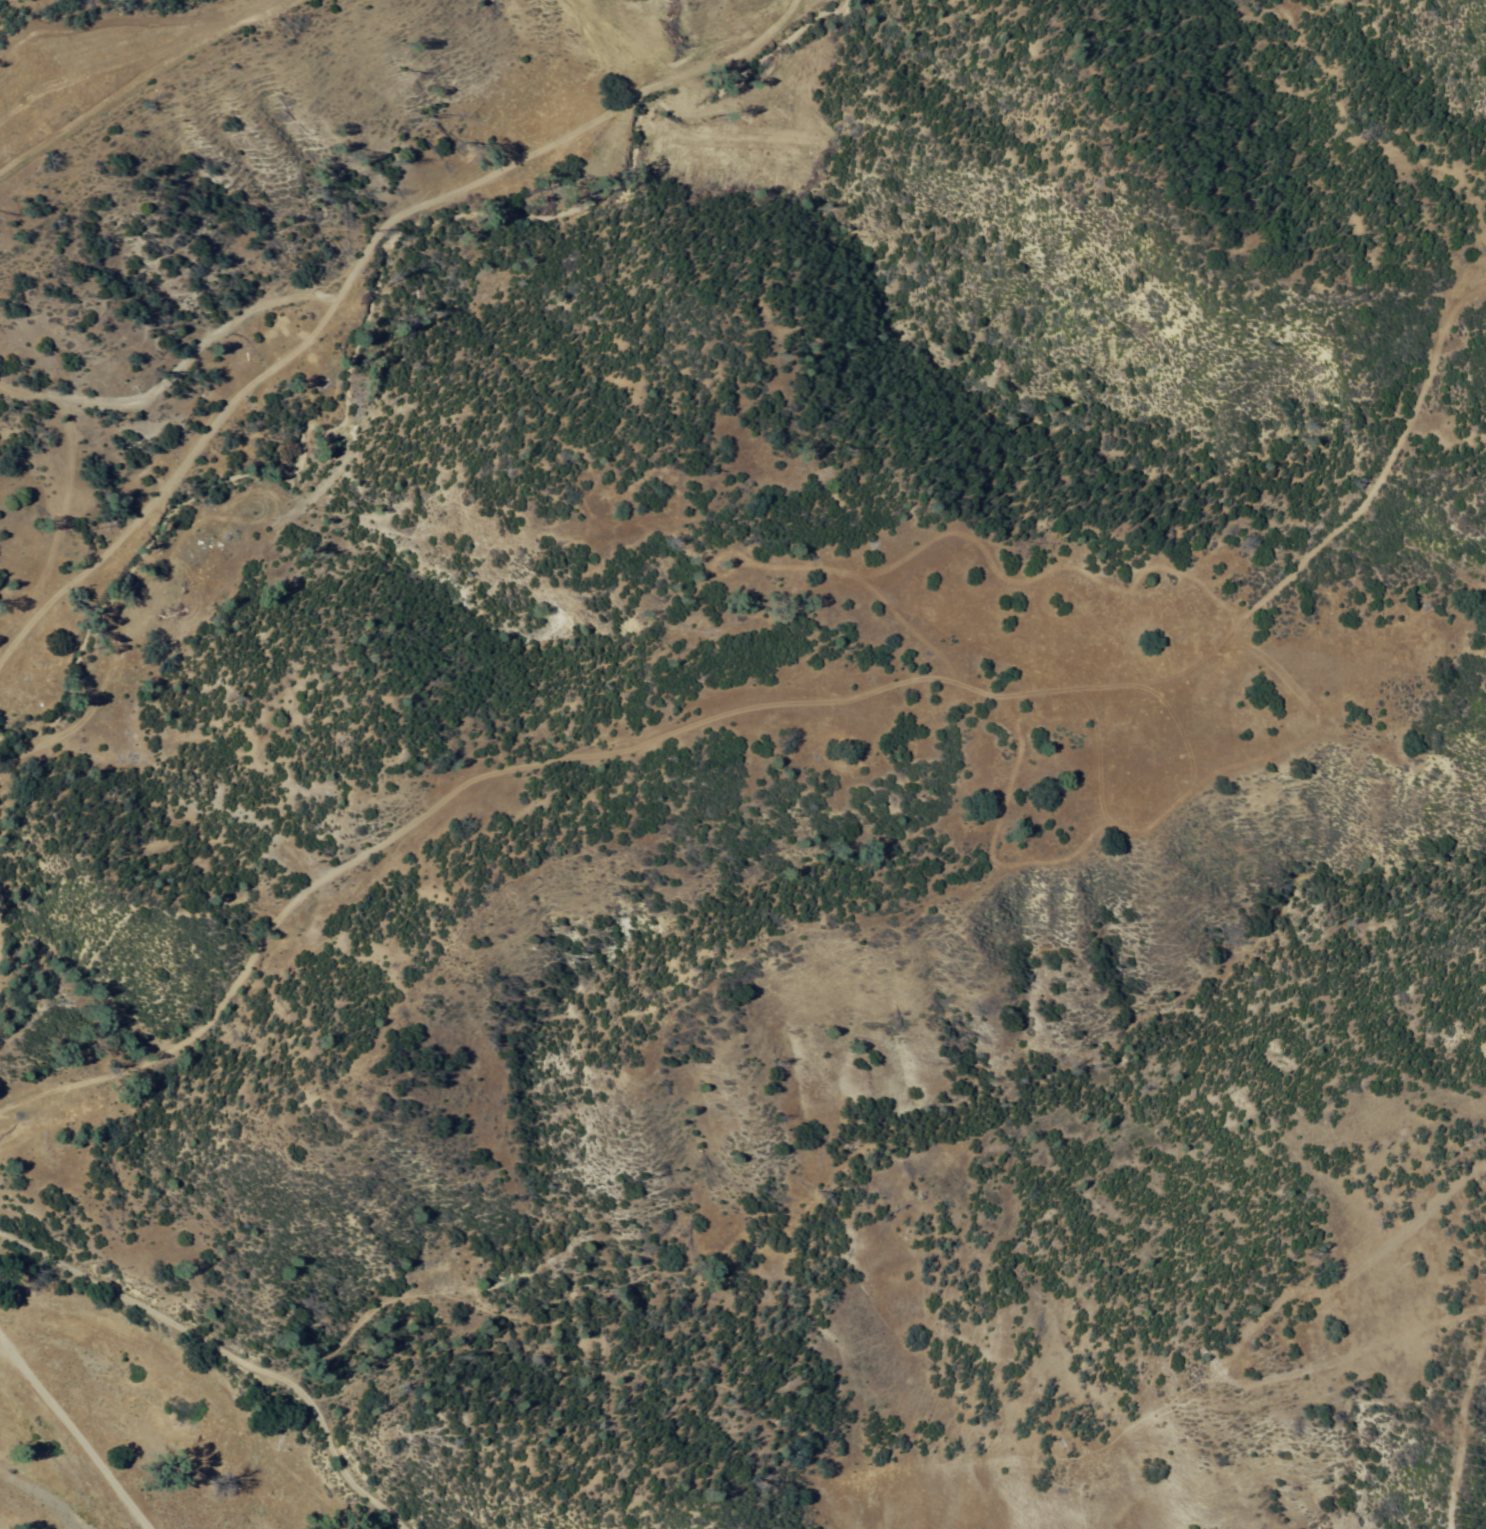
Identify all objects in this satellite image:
road: (225, 1354)

